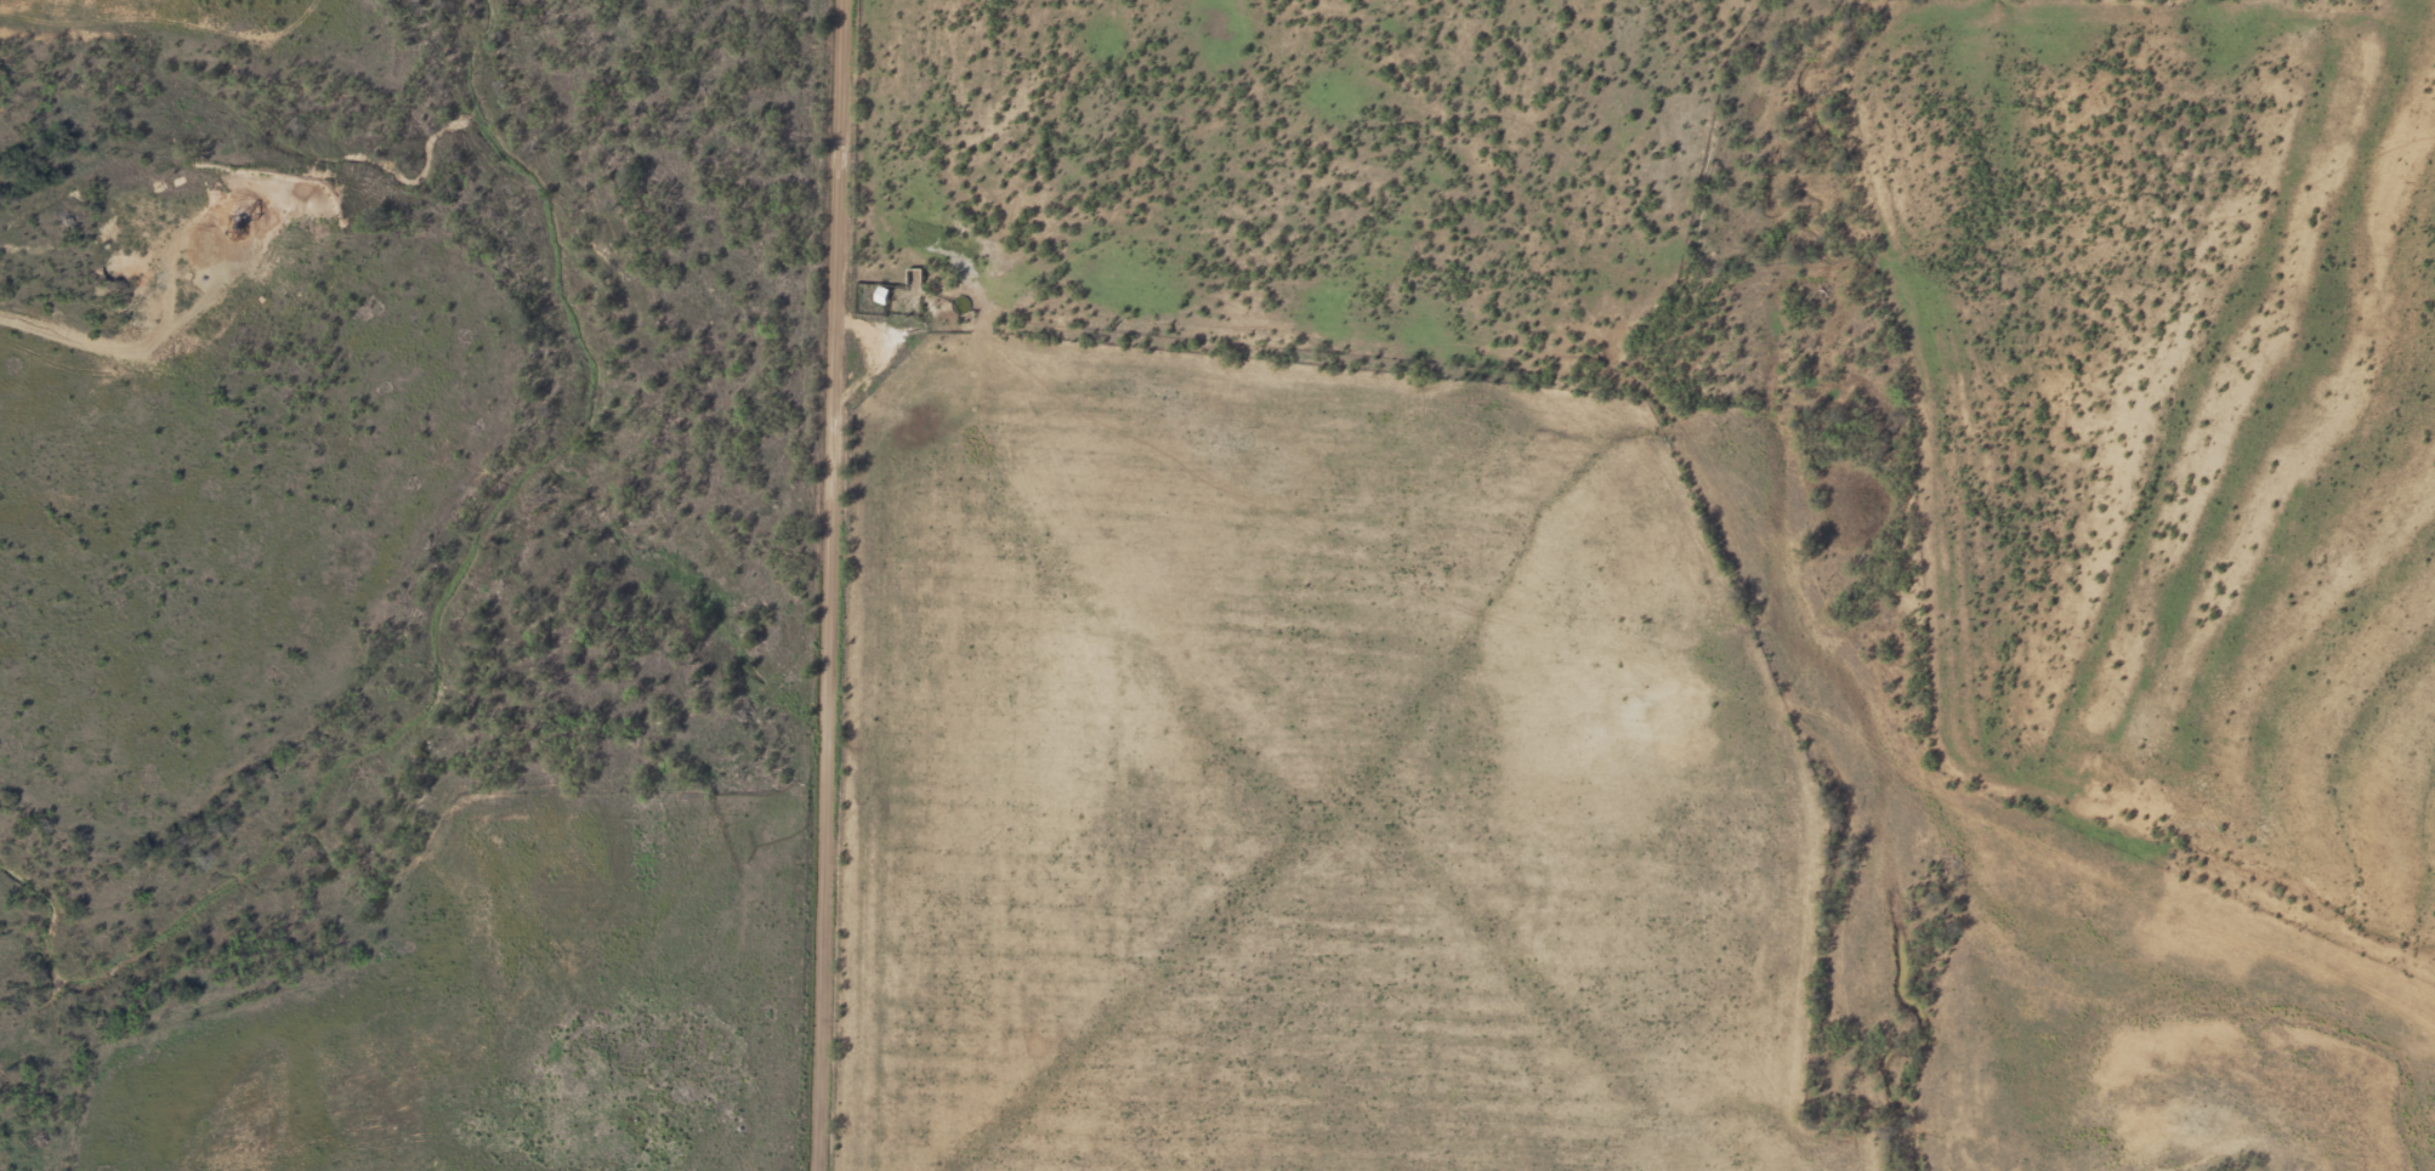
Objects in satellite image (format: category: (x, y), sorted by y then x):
building: (914, 278)
road: (830, 585)

